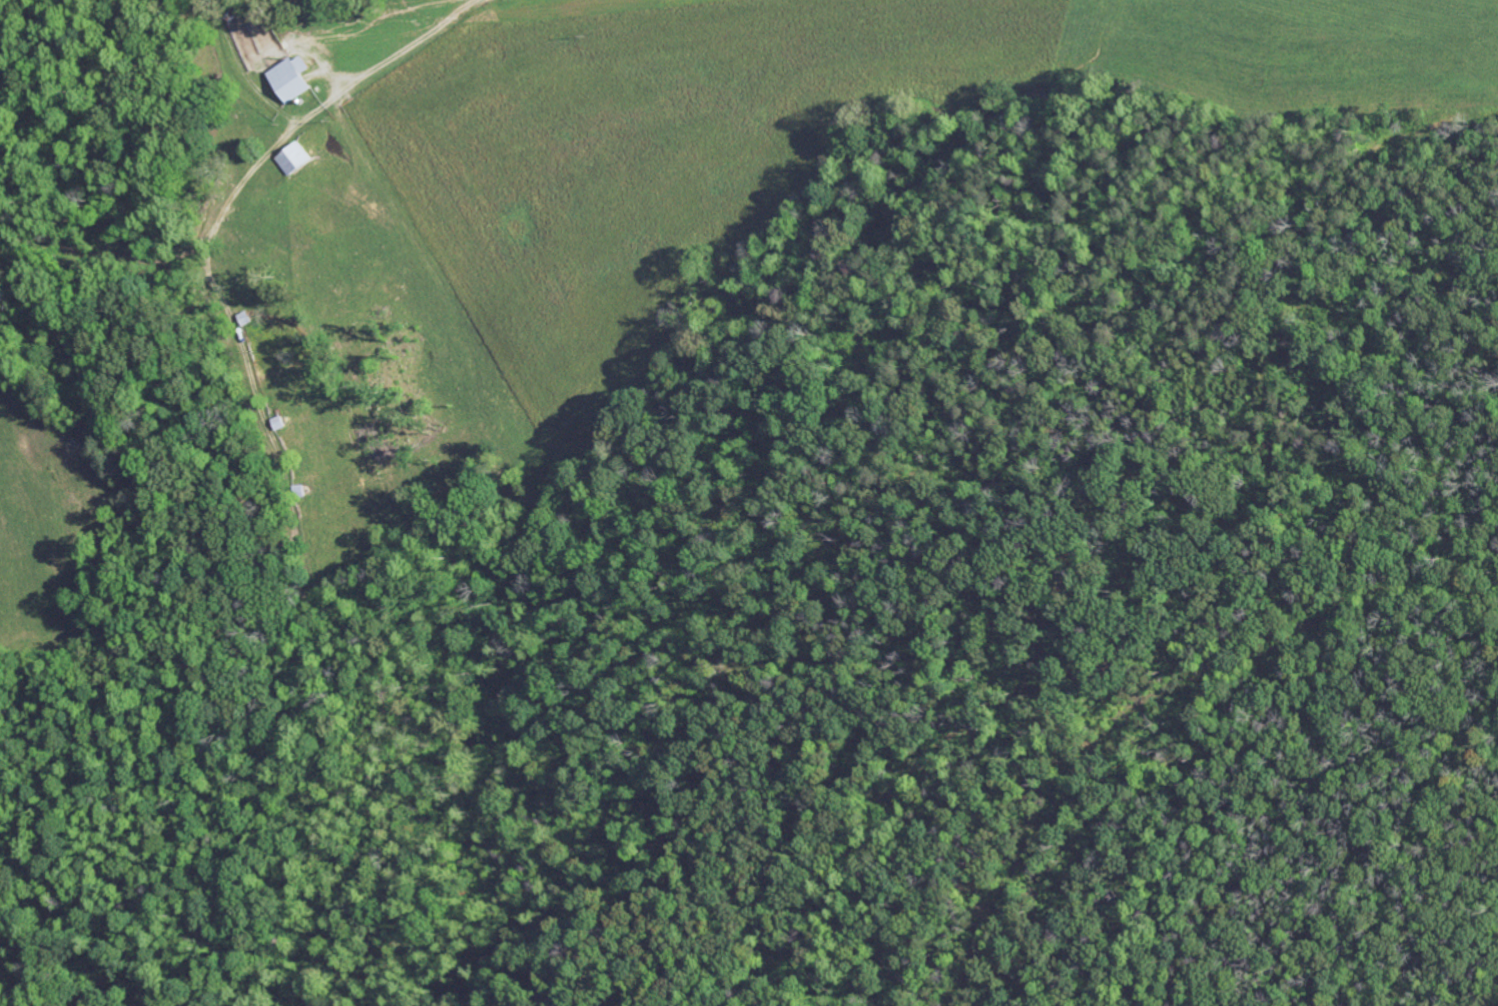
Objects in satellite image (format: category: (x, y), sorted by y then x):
building: (291, 79)
building: (293, 159)
building: (280, 423)

